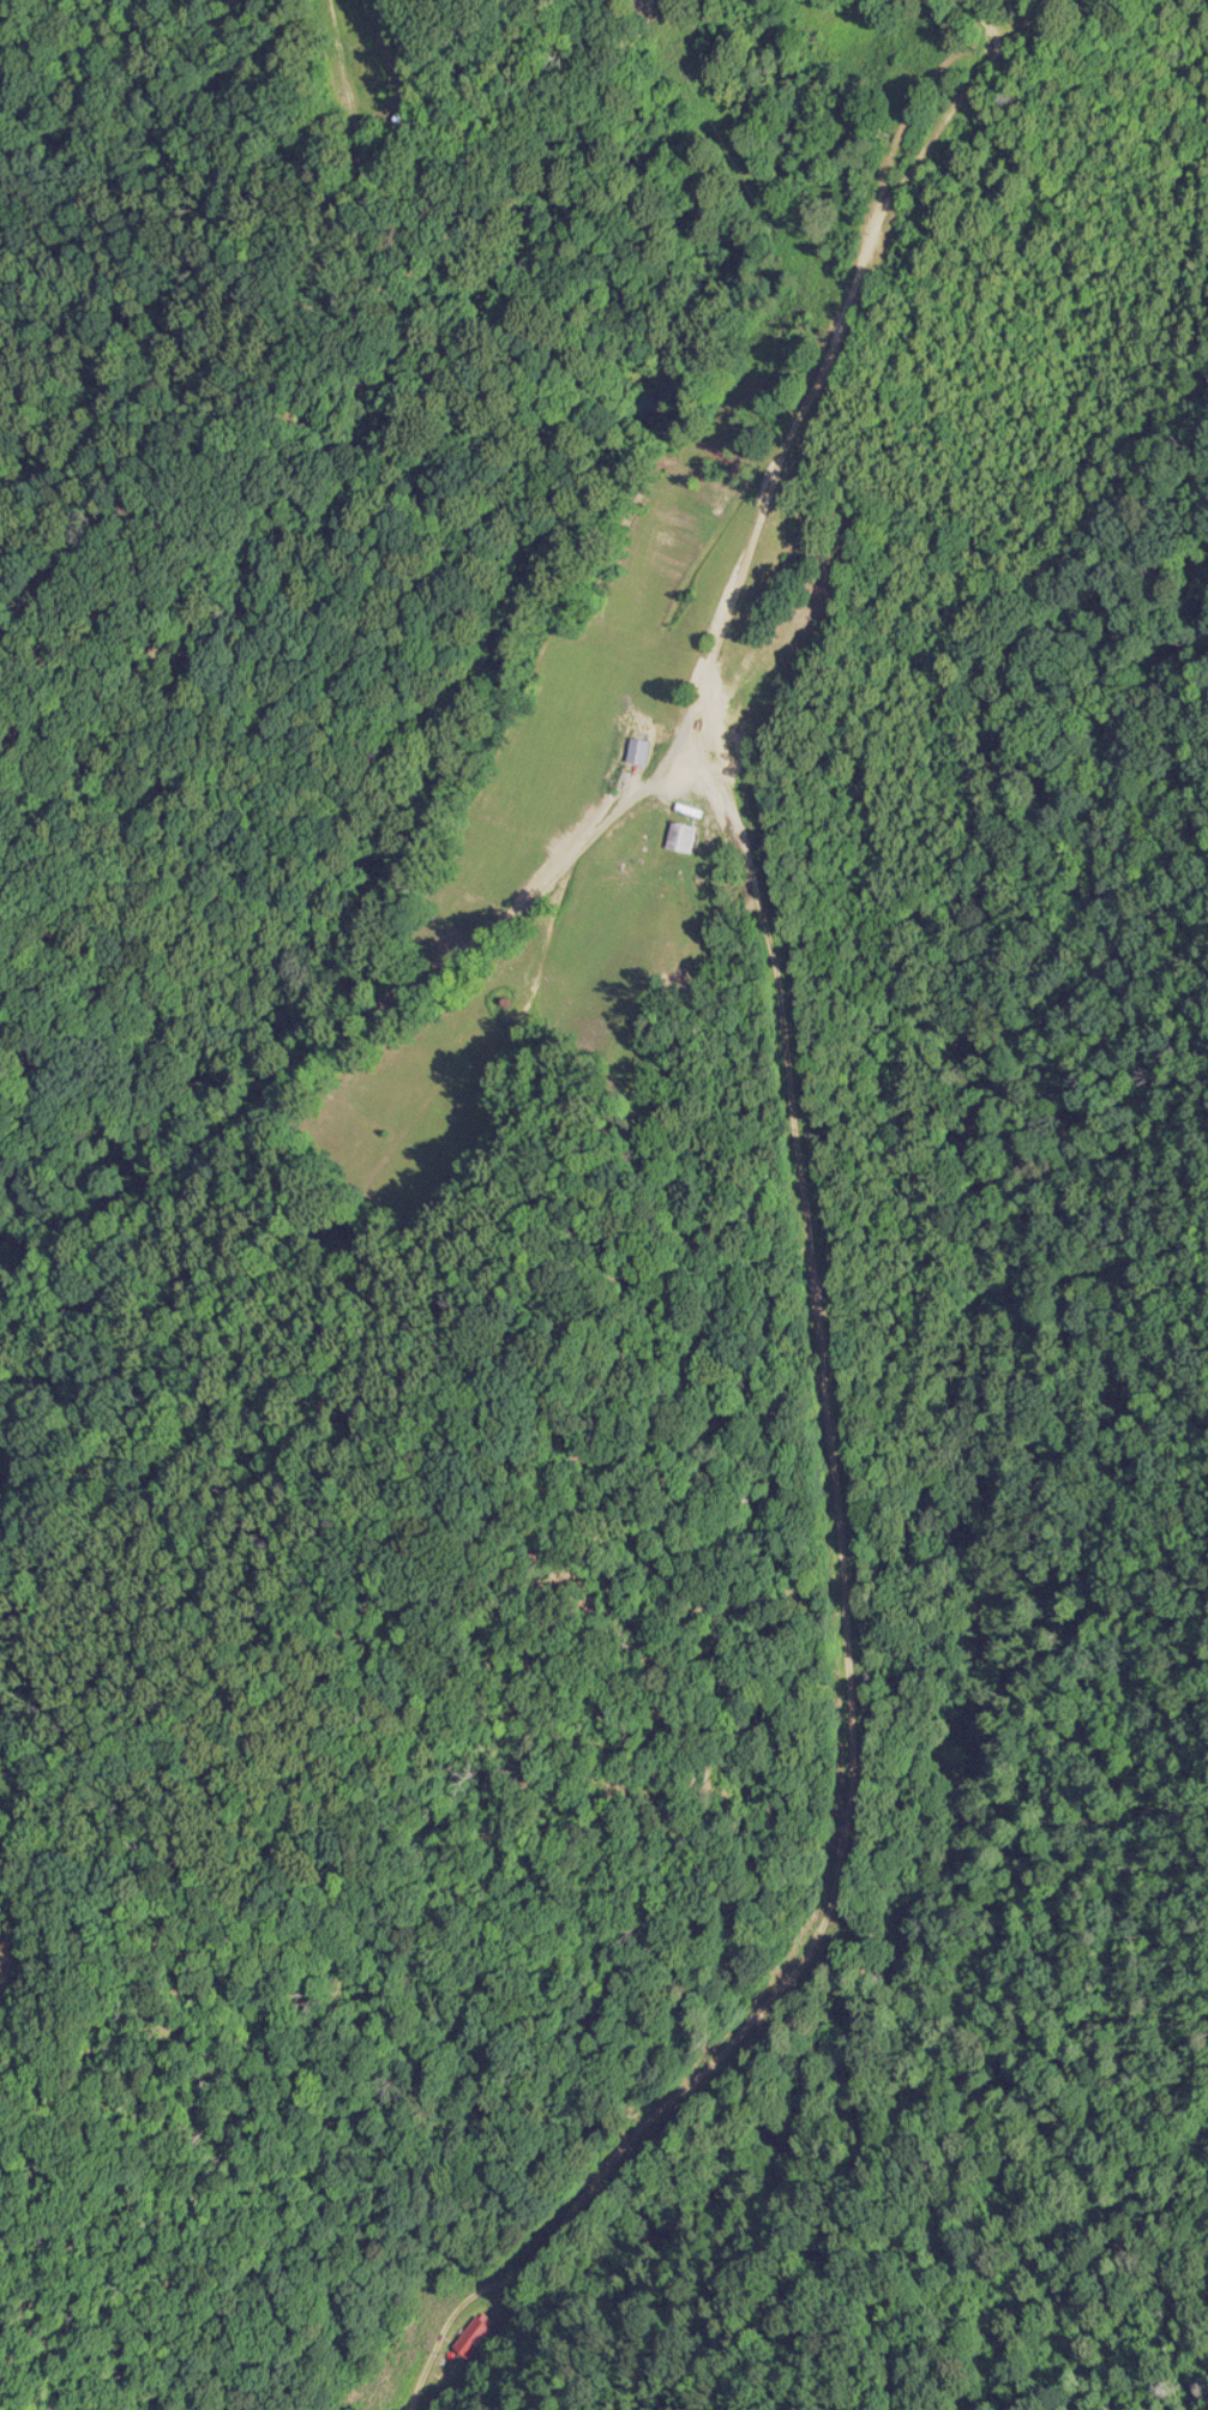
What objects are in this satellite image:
road: (812, 385)
building: (678, 836)
road: (372, 1038)
road: (847, 1659)
building: (475, 2336)

